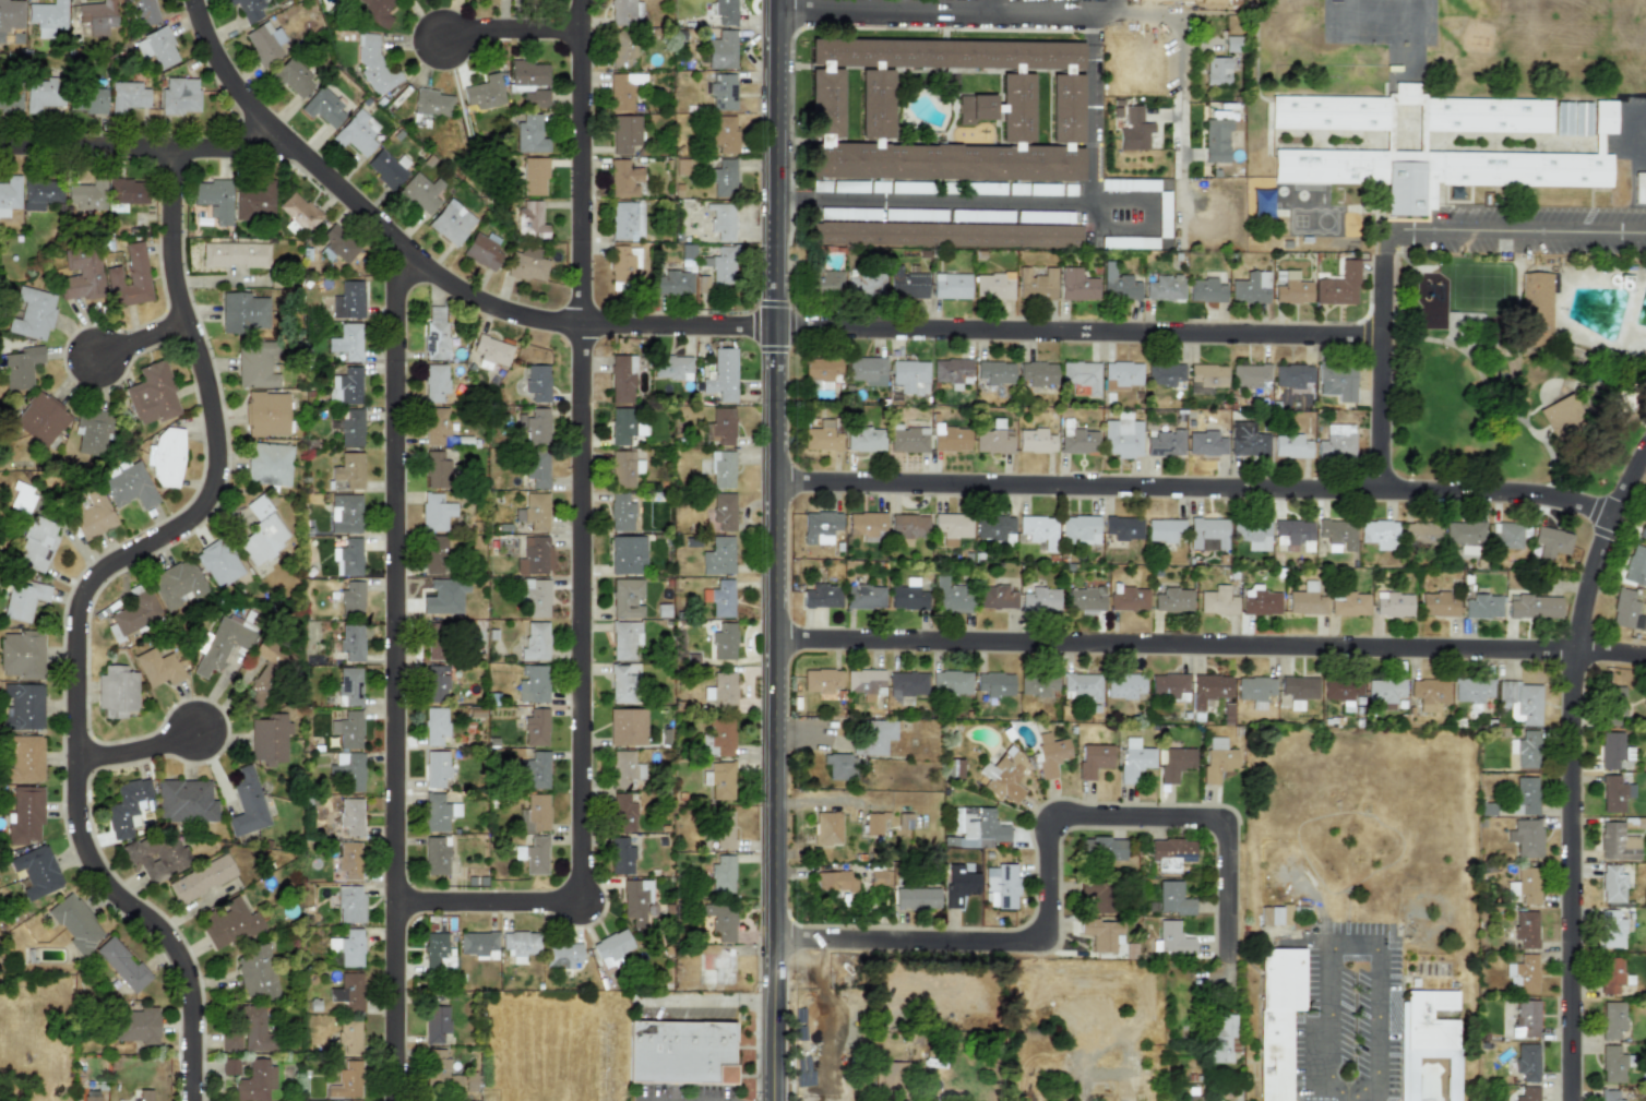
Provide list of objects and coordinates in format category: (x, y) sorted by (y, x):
road: (988, 5)
road: (1116, 7)
road: (1259, 7)
building: (248, 9)
building: (144, 11)
building: (725, 11)
road: (946, 11)
building: (374, 12)
building: (625, 12)
building: (10, 15)
building: (47, 17)
building: (97, 17)
road: (516, 37)
building: (264, 44)
building: (1231, 44)
park: (1444, 46)
building: (156, 47)
building: (622, 47)
building: (721, 50)
road: (1181, 53)
building: (374, 65)
building: (1216, 71)
building: (294, 76)
building: (532, 81)
building: (623, 91)
building: (485, 92)
building: (723, 92)
building: (41, 95)
building: (180, 96)
building: (127, 97)
building: (10, 100)
building: (87, 100)
building: (432, 103)
building: (323, 108)
road: (1092, 108)
building: (945, 109)
building: (1572, 119)
building: (1134, 130)
building: (357, 133)
building: (530, 133)
building: (625, 134)
building: (723, 134)
building: (1216, 141)
building: (1300, 149)
road: (135, 153)
building: (384, 169)
building: (534, 177)
building: (723, 178)
building: (624, 179)
building: (820, 186)
building: (1639, 186)
building: (849, 187)
building: (879, 187)
building: (909, 188)
building: (983, 188)
building: (1017, 189)
building: (1043, 189)
building: (1069, 190)
building: (126, 191)
building: (422, 192)
building: (40, 194)
building: (9, 195)
building: (87, 195)
building: (214, 199)
building: (254, 199)
road: (934, 202)
building: (299, 212)
building: (849, 213)
building: (915, 214)
building: (1164, 214)
building: (981, 215)
building: (1045, 216)
building: (530, 219)
building: (627, 219)
building: (451, 223)
building: (723, 223)
building: (944, 234)
road: (1504, 234)
building: (1128, 242)
building: (336, 246)
building: (484, 251)
building: (236, 254)
building: (622, 264)
building: (527, 265)
building: (82, 277)
building: (129, 278)
building: (824, 283)
building: (673, 284)
building: (907, 284)
building: (1036, 284)
building: (1077, 285)
building: (864, 286)
building: (951, 286)
building: (993, 286)
building: (1120, 286)
building: (1338, 286)
park: (1480, 287)
building: (1165, 288)
building: (1251, 288)
building: (1206, 291)
building: (1293, 291)
building: (348, 301)
building: (1536, 308)
building: (244, 311)
building: (33, 313)
road: (720, 331)
building: (436, 334)
road: (145, 340)
building: (347, 342)
building: (491, 351)
building: (258, 363)
building: (21, 367)
building: (672, 367)
building: (821, 369)
building: (868, 370)
building: (952, 372)
building: (995, 372)
building: (1037, 372)
road: (1385, 373)
building: (1165, 374)
building: (721, 375)
building: (1082, 375)
building: (1121, 375)
building: (1207, 375)
building: (1250, 375)
building: (909, 376)
building: (1292, 376)
building: (621, 381)
building: (436, 382)
building: (537, 382)
building: (1337, 382)
building: (347, 386)
building: (152, 395)
road: (1486, 405)
building: (267, 414)
building: (1341, 418)
building: (1561, 418)
building: (40, 419)
building: (622, 424)
building: (535, 426)
building: (723, 426)
building: (438, 427)
building: (351, 428)
building: (92, 432)
building: (1122, 436)
building: (822, 438)
building: (950, 439)
building: (993, 439)
building: (866, 440)
building: (908, 440)
building: (1250, 440)
building: (1035, 441)
building: (1080, 442)
building: (1337, 442)
building: (1165, 444)
building: (1206, 444)
building: (1291, 446)
building: (166, 457)
building: (269, 464)
building: (624, 468)
building: (536, 469)
building: (721, 469)
building: (349, 470)
building: (437, 470)
building: (129, 486)
road: (1198, 489)
building: (21, 498)
building: (536, 511)
building: (724, 511)
building: (93, 512)
building: (436, 512)
building: (621, 513)
building: (345, 514)
building: (866, 524)
building: (909, 524)
building: (820, 527)
building: (952, 527)
building: (994, 528)
building: (1123, 528)
building: (1038, 529)
building: (1080, 529)
building: (1165, 530)
building: (1336, 531)
building: (1379, 531)
building: (1422, 531)
building: (1464, 531)
building: (262, 532)
building: (1292, 532)
building: (1207, 534)
building: (1252, 534)
building: (1644, 534)
building: (1508, 536)
building: (1550, 542)
road: (585, 546)
road: (777, 550)
building: (627, 554)
building: (348, 557)
building: (535, 557)
building: (718, 557)
building: (434, 559)
building: (218, 563)
building: (1636, 566)
building: (177, 585)
building: (444, 596)
building: (908, 596)
building: (535, 597)
building: (822, 597)
building: (864, 597)
building: (952, 597)
building: (628, 598)
building: (720, 598)
building: (997, 598)
building: (1129, 598)
building: (351, 599)
building: (23, 600)
building: (1040, 600)
building: (1086, 600)
building: (1173, 600)
building: (1217, 601)
building: (1261, 602)
building: (1307, 602)
building: (1349, 603)
building: (1393, 605)
building: (1439, 605)
building: (1482, 607)
building: (1534, 607)
building: (1624, 609)
road: (86, 610)
building: (133, 614)
building: (624, 639)
building: (535, 642)
building: (724, 642)
building: (351, 643)
building: (218, 645)
building: (433, 647)
road: (1212, 647)
building: (21, 655)
building: (158, 669)
road: (399, 671)
building: (821, 680)
building: (436, 681)
building: (864, 682)
building: (952, 683)
building: (533, 684)
building: (624, 684)
building: (995, 684)
building: (1037, 684)
building: (349, 685)
building: (1124, 685)
building: (1168, 685)
building: (906, 686)
building: (1082, 686)
building: (1341, 689)
building: (1209, 690)
building: (1299, 690)
building: (721, 691)
building: (1255, 691)
building: (1472, 691)
building: (1385, 692)
building: (116, 693)
building: (1429, 693)
building: (1645, 697)
building: (1520, 702)
building: (1614, 702)
building: (23, 706)
building: (436, 726)
building: (627, 727)
building: (536, 728)
building: (348, 730)
building: (718, 738)
building: (873, 738)
building: (270, 739)
building: (1526, 750)
building: (1611, 750)
road: (144, 754)
building: (1050, 754)
building: (1217, 758)
building: (24, 759)
building: (1094, 759)
building: (1134, 759)
building: (1176, 763)
building: (839, 766)
building: (437, 768)
building: (535, 769)
building: (624, 770)
building: (348, 771)
road: (1575, 774)
building: (1004, 775)
building: (720, 780)
building: (1614, 793)
building: (1525, 795)
building: (186, 801)
building: (247, 804)
building: (127, 806)
building: (438, 813)
building: (623, 813)
building: (535, 814)
building: (25, 815)
building: (350, 816)
building: (905, 821)
building: (874, 824)
building: (977, 827)
building: (827, 828)
building: (724, 829)
building: (1526, 837)
building: (1617, 843)
building: (1102, 849)
building: (158, 855)
building: (436, 855)
building: (533, 855)
building: (1170, 855)
building: (620, 857)
road: (1055, 857)
building: (349, 860)
building: (37, 872)
building: (723, 875)
building: (879, 877)
building: (202, 878)
building: (836, 882)
building: (961, 884)
building: (1002, 885)
building: (1612, 885)
building: (1525, 886)
building: (1094, 895)
building: (917, 898)
building: (1172, 899)
building: (637, 901)
building: (350, 903)
building: (1269, 915)
building: (720, 921)
building: (75, 923)
building: (231, 924)
building: (1526, 929)
building: (1611, 930)
building: (1101, 933)
building: (1171, 940)
road: (1353, 941)
building: (478, 945)
building: (518, 945)
building: (347, 948)
building: (612, 948)
building: (437, 953)
building: (562, 955)
building: (123, 965)
building: (255, 970)
building: (1523, 974)
building: (1611, 974)
building: (347, 992)
road: (706, 1003)
road: (1328, 1014)
road: (1376, 1015)
building: (1277, 1018)
building: (1526, 1018)
building: (1612, 1020)
building: (437, 1025)
building: (136, 1026)
building: (254, 1029)
building: (349, 1036)
building: (1224, 1040)
building: (230, 1041)
building: (1428, 1048)
building: (680, 1052)
building: (1527, 1062)
building: (1612, 1063)
building: (229, 1067)
building: (441, 1070)
building: (883, 1076)
building: (255, 1081)
building: (347, 1081)
building: (470, 1081)
road: (1336, 1087)
road: (1360, 1087)
road: (1345, 1093)
building: (1528, 1093)
building: (144, 1096)
building: (1609, 1096)
building: (91, 1098)

